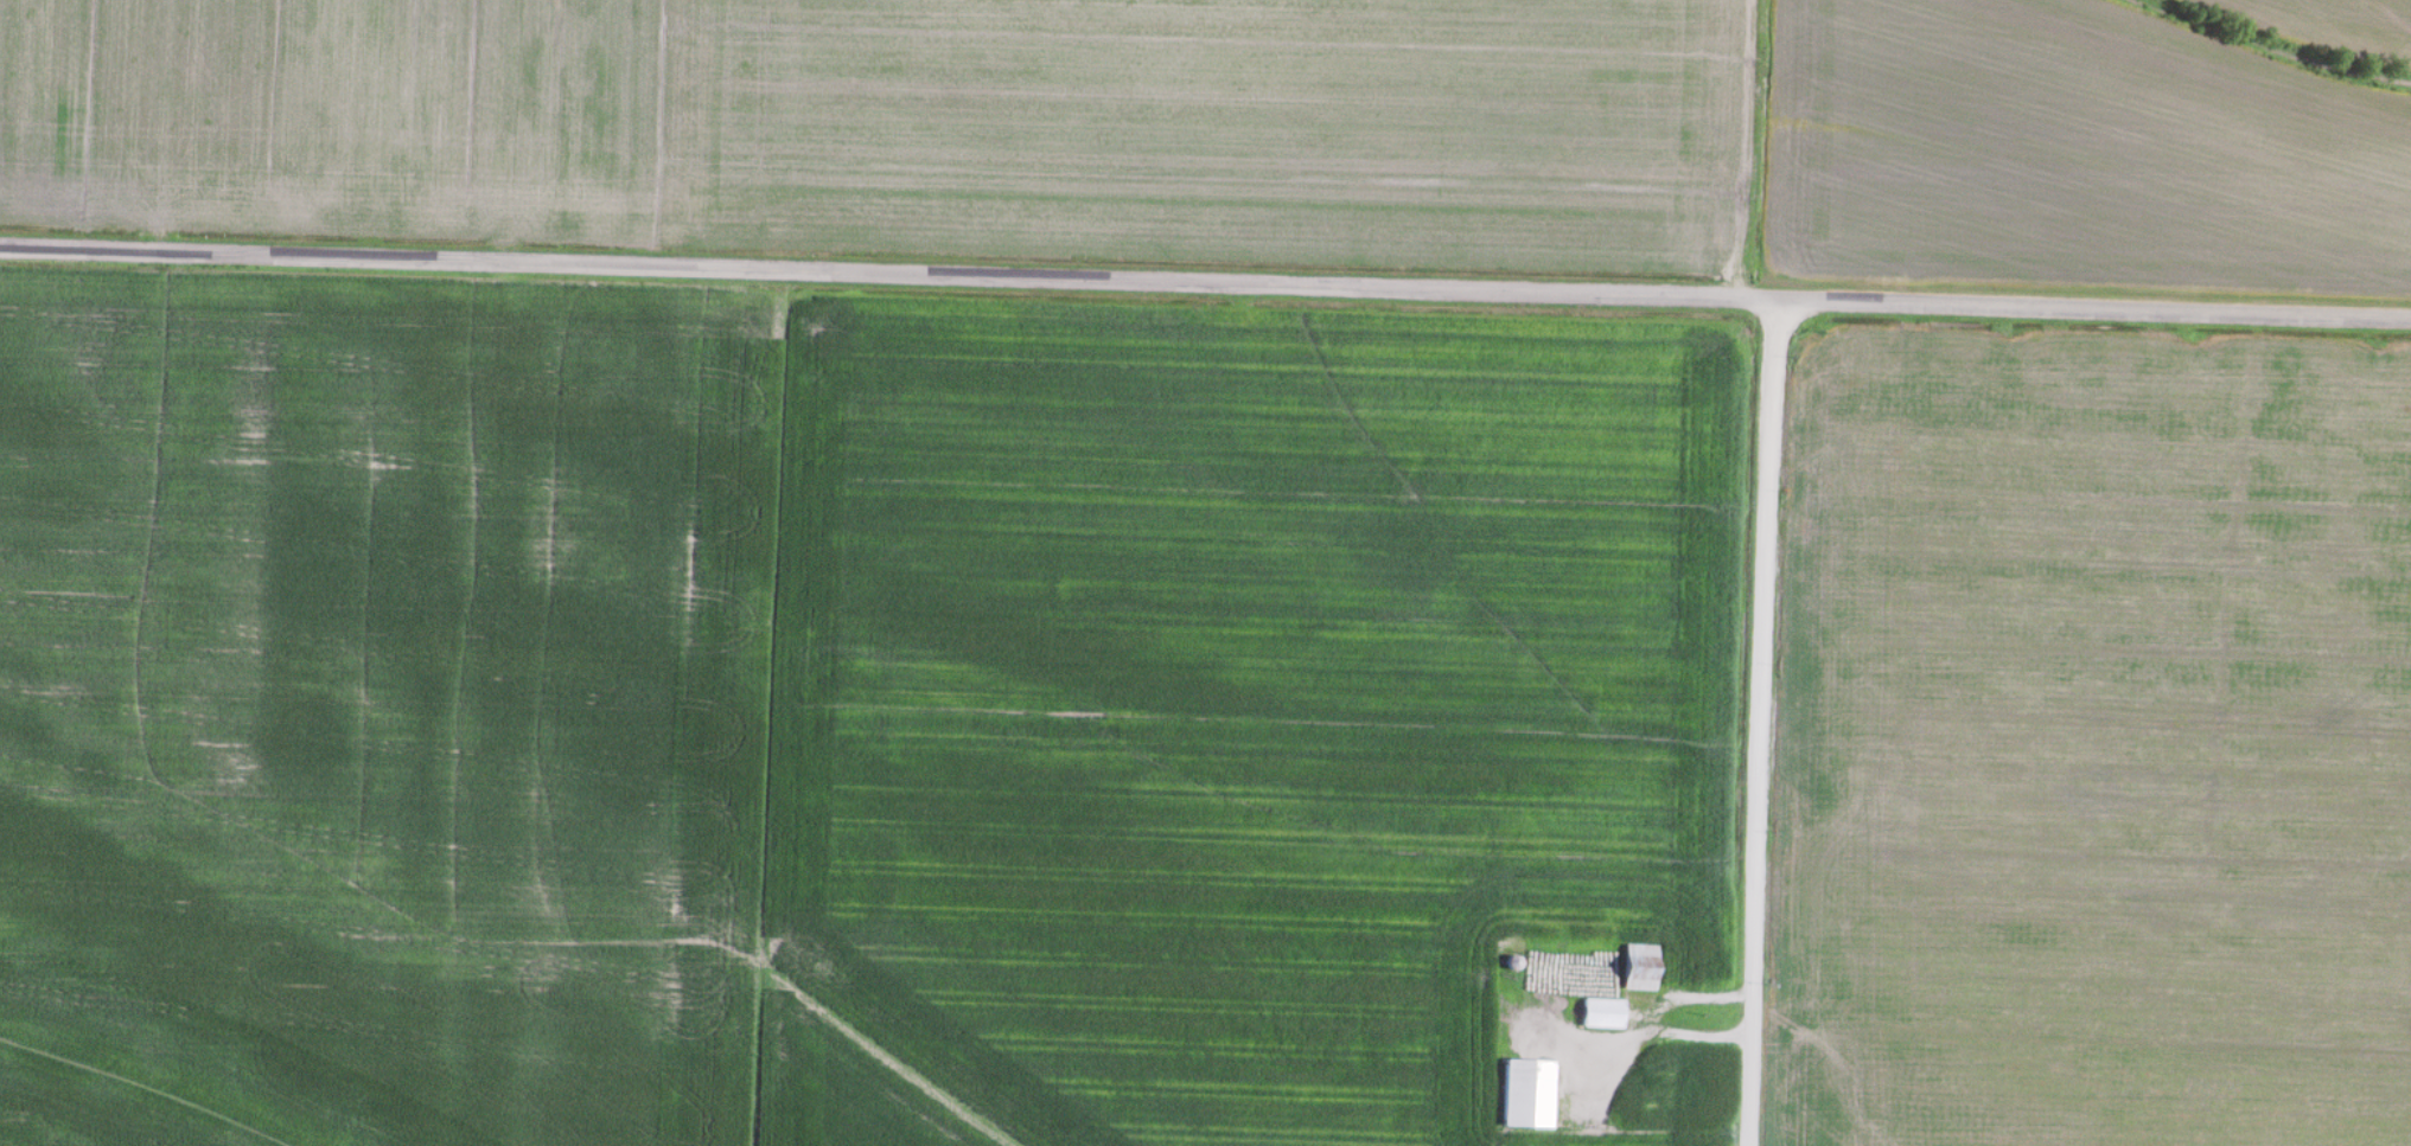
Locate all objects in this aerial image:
road: (1205, 281)
road: (1761, 722)
building: (1511, 963)
building: (1638, 968)
building: (1600, 1014)
road: (1664, 1037)
building: (1525, 1094)

